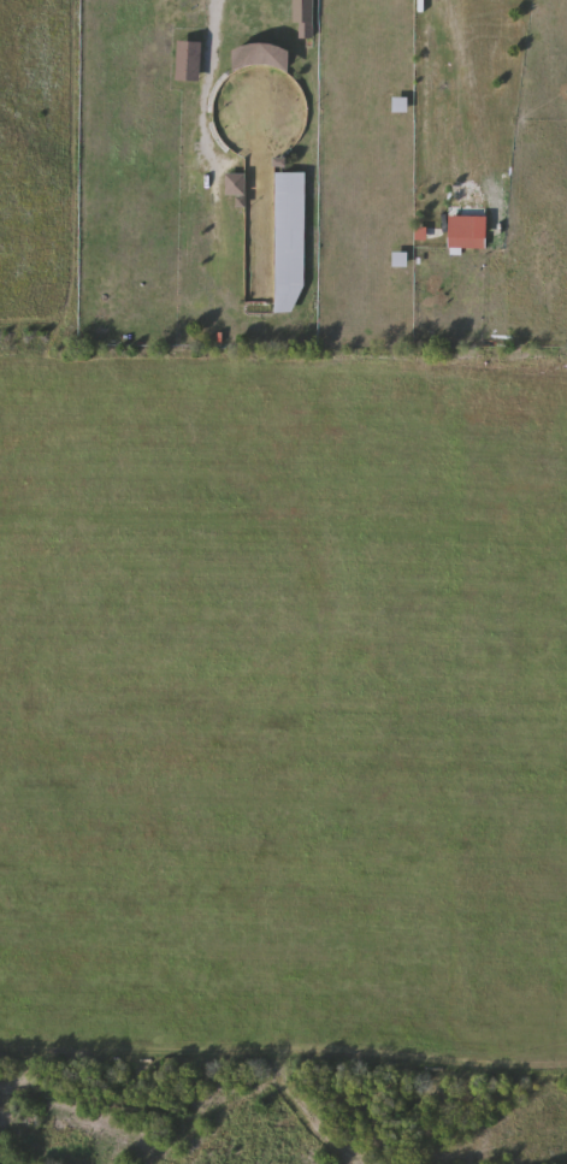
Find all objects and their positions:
building: (306, 16)
road: (444, 89)
road: (205, 120)
building: (236, 185)
building: (260, 289)

